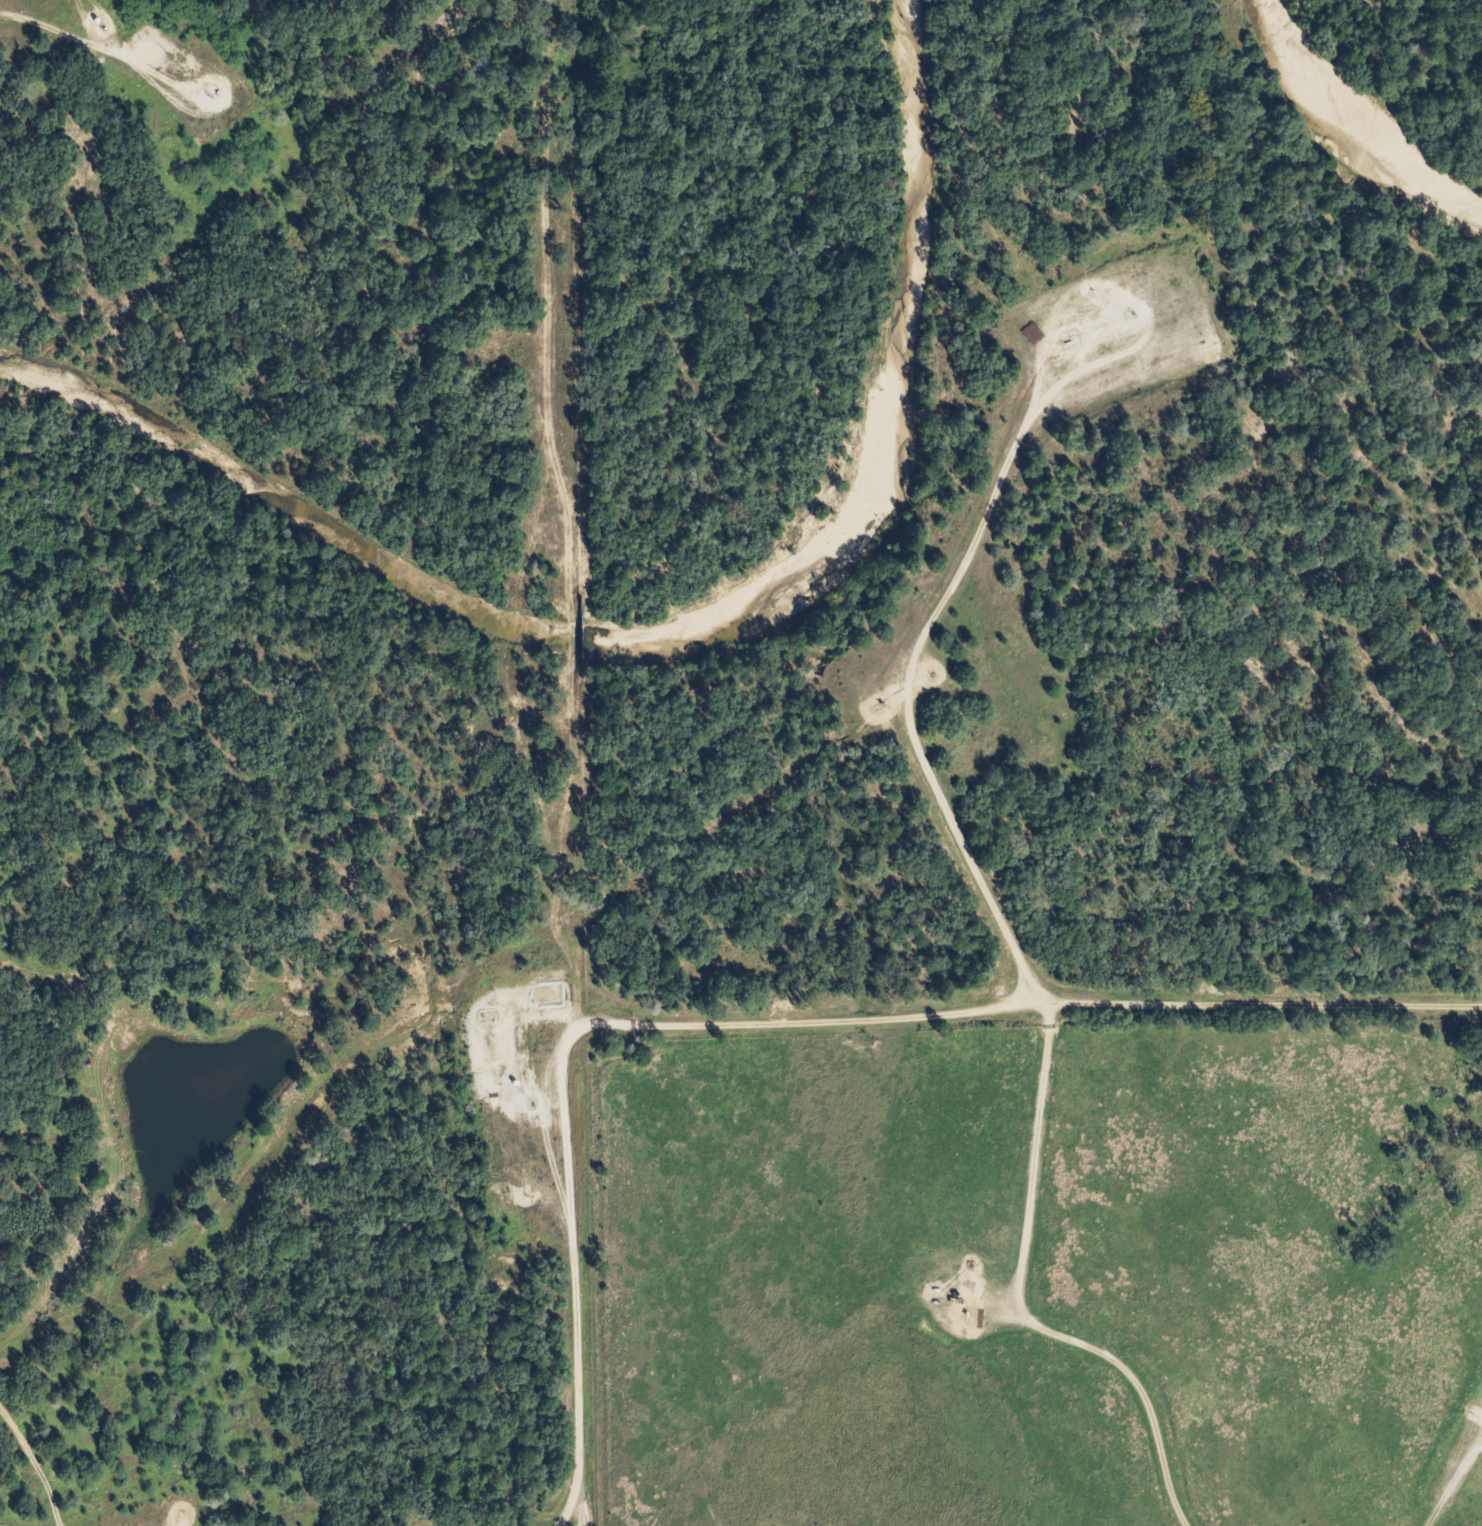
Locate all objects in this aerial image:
road: (1099, 1002)
road: (1025, 1301)
road: (111, 1515)
road: (40, 1525)

